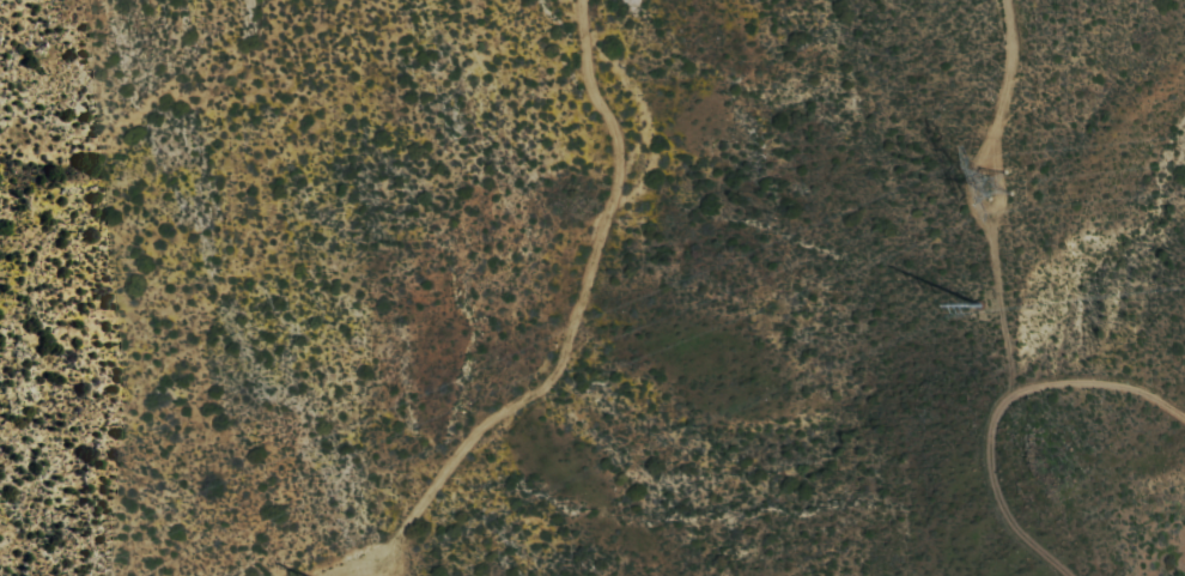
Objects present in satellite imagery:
power tower: (985, 190)

